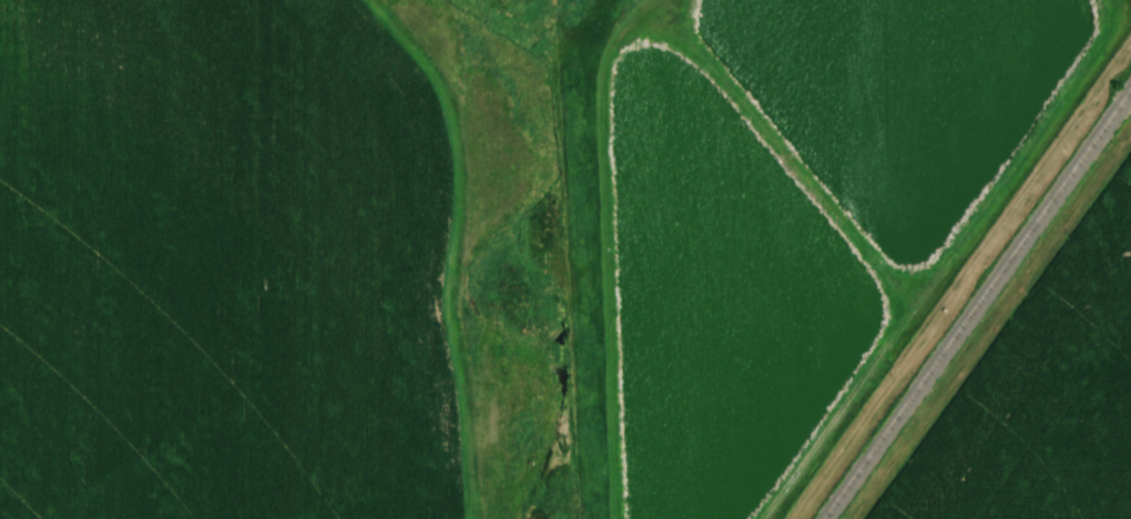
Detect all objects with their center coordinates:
railway: (976, 303)

